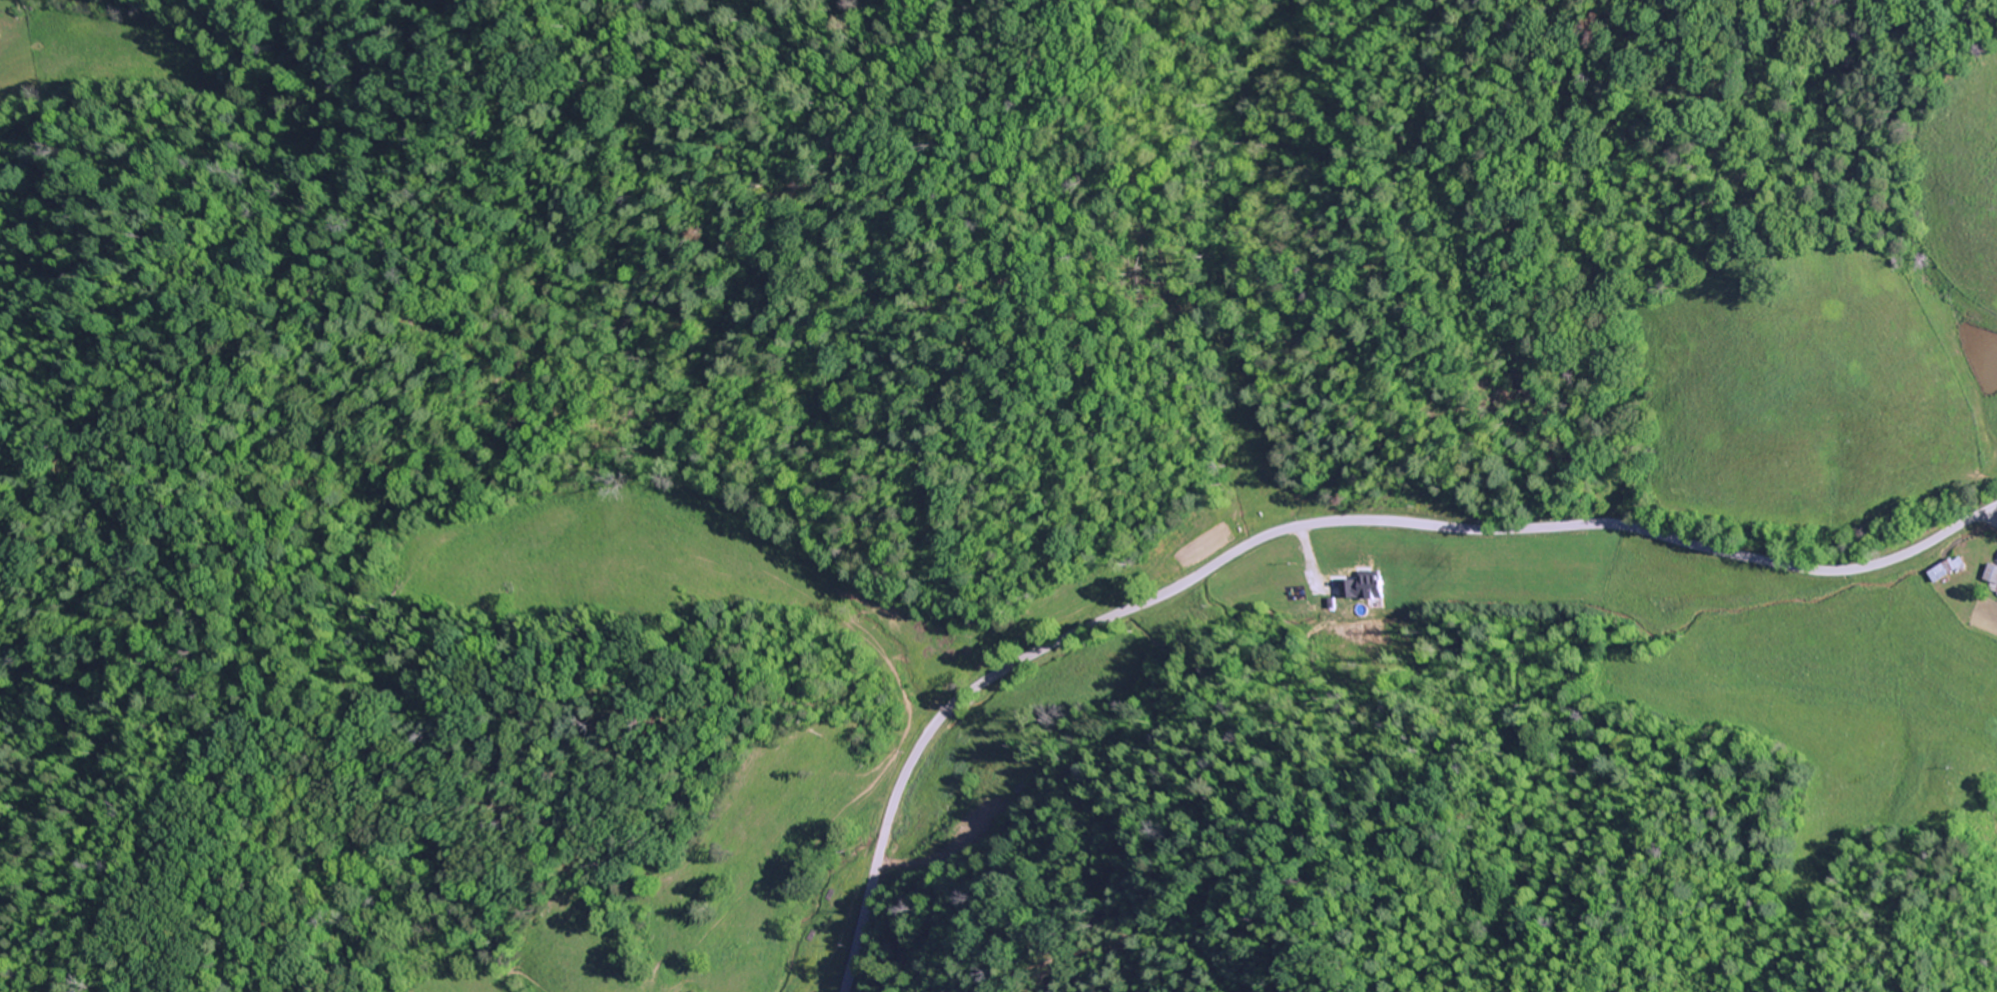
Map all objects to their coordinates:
road: (1990, 517)
road: (1304, 525)
building: (1993, 575)

